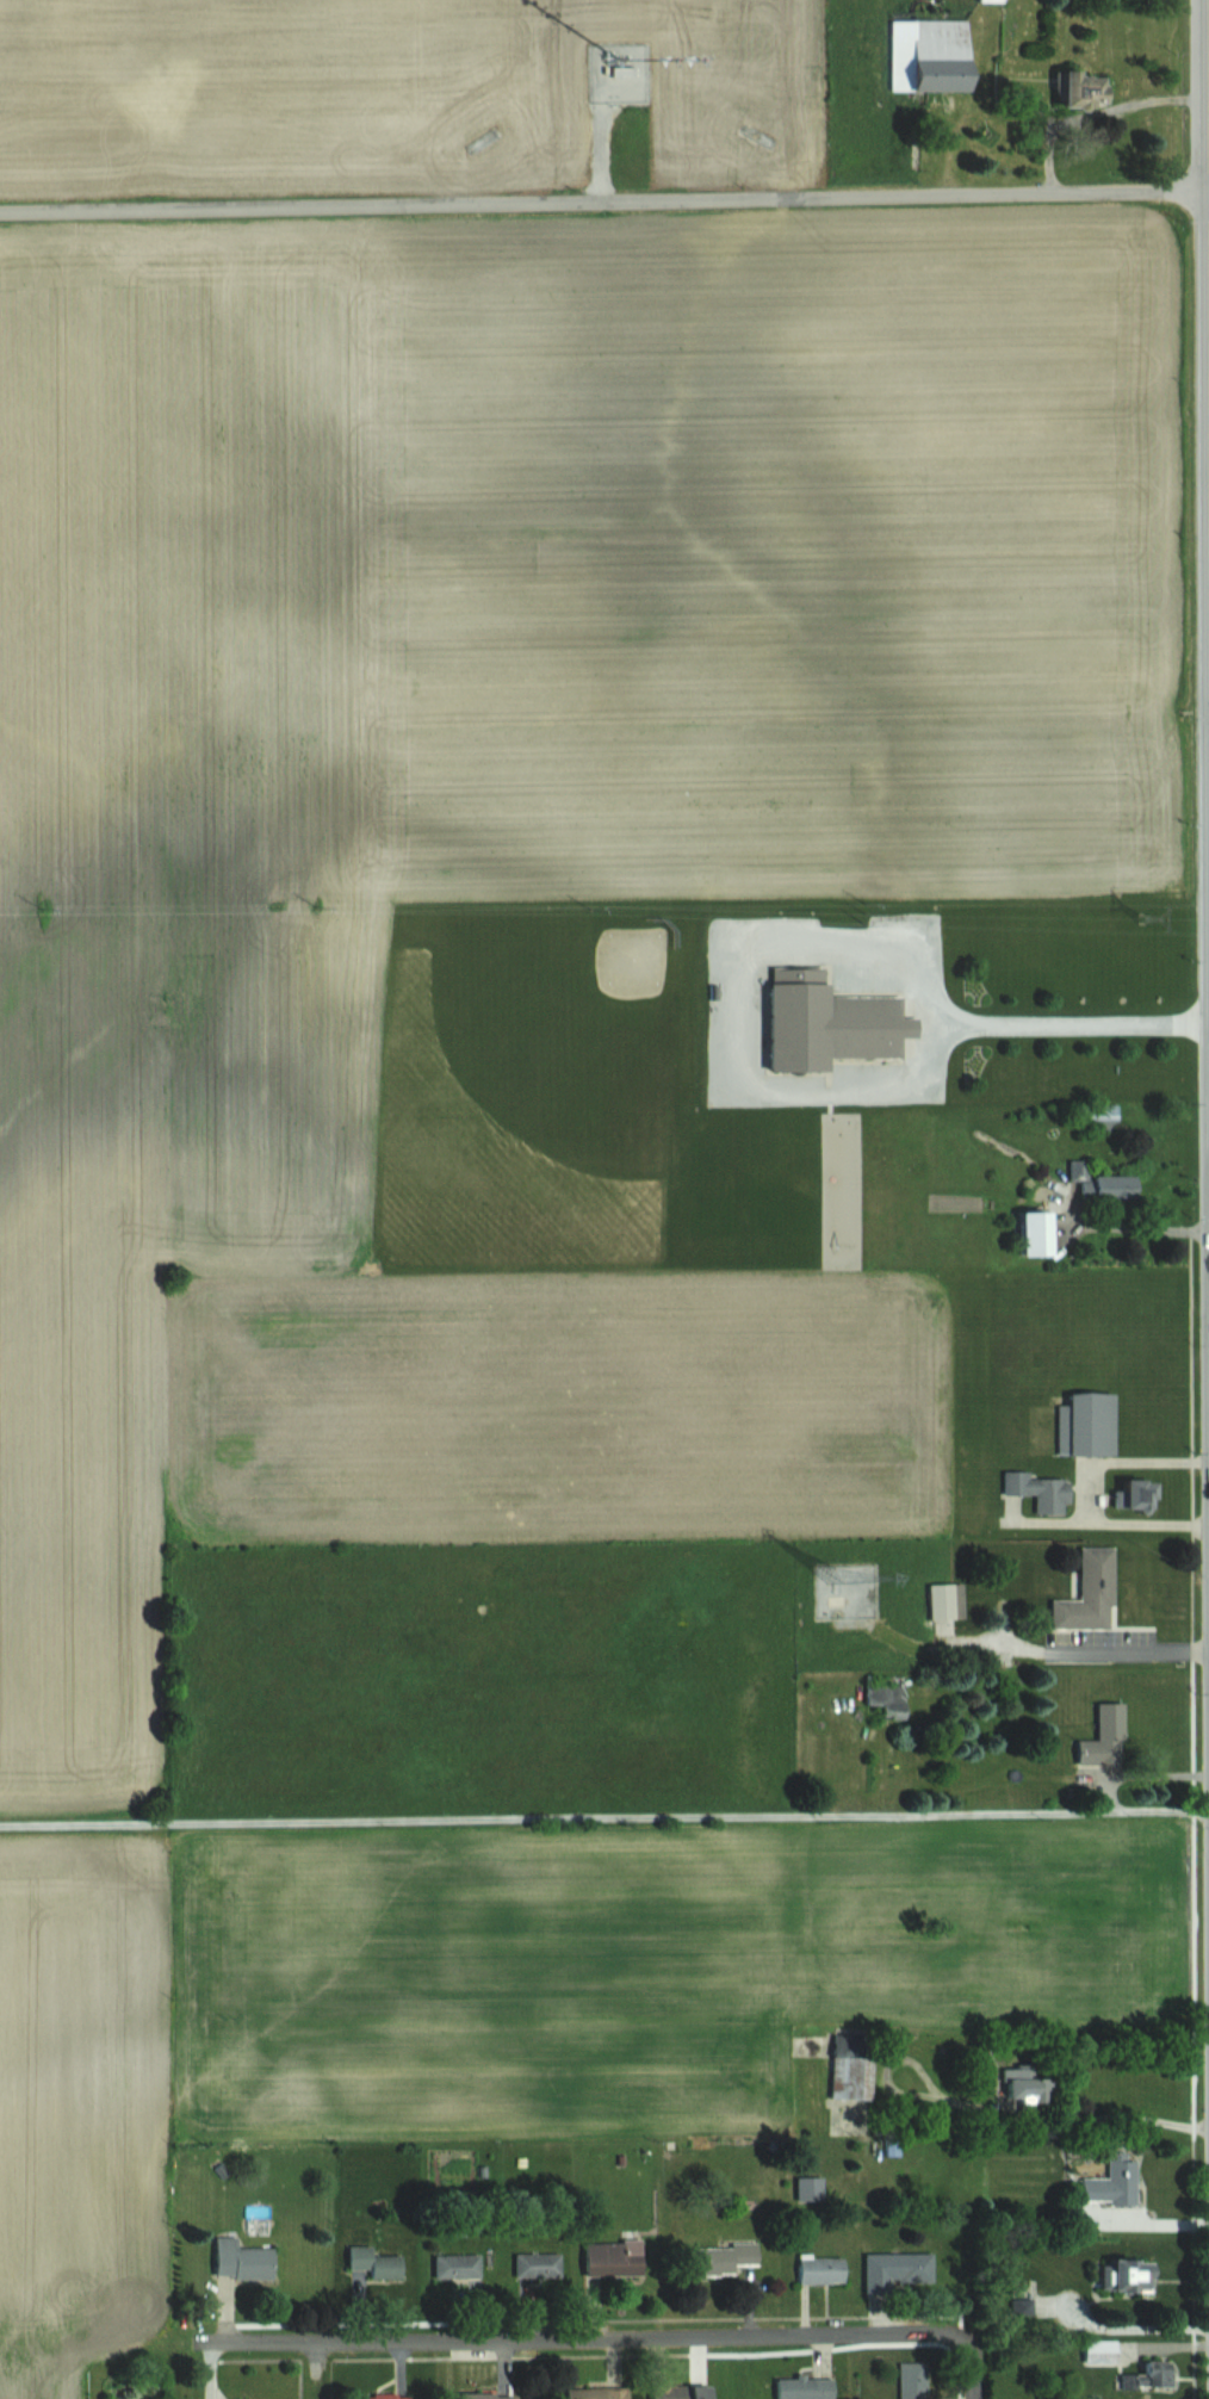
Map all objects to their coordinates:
building: (997, 1)
building: (934, 55)
building: (1095, 89)
road: (1099, 118)
road: (604, 202)
building: (794, 1021)
road: (1075, 1021)
road: (1134, 1227)
road: (1118, 1458)
building: (1035, 1492)
building: (1124, 1494)
road: (1116, 1521)
building: (1084, 1594)
road: (1147, 1651)
building: (1099, 1736)
road: (603, 1817)
building: (851, 2078)
building: (1027, 2085)
road: (1095, 2114)
building: (1115, 2183)
building: (812, 2188)
building: (728, 2257)
building: (616, 2258)
building: (244, 2259)
building: (379, 2261)
building: (539, 2264)
building: (460, 2265)
building: (825, 2269)
building: (898, 2270)
building: (1141, 2276)
road: (585, 2342)
building: (1103, 2351)
road: (975, 2369)
building: (1153, 2376)
building: (916, 2380)
building: (802, 2388)
building: (675, 2391)
building: (601, 2393)
building: (492, 2395)
building: (390, 2397)

